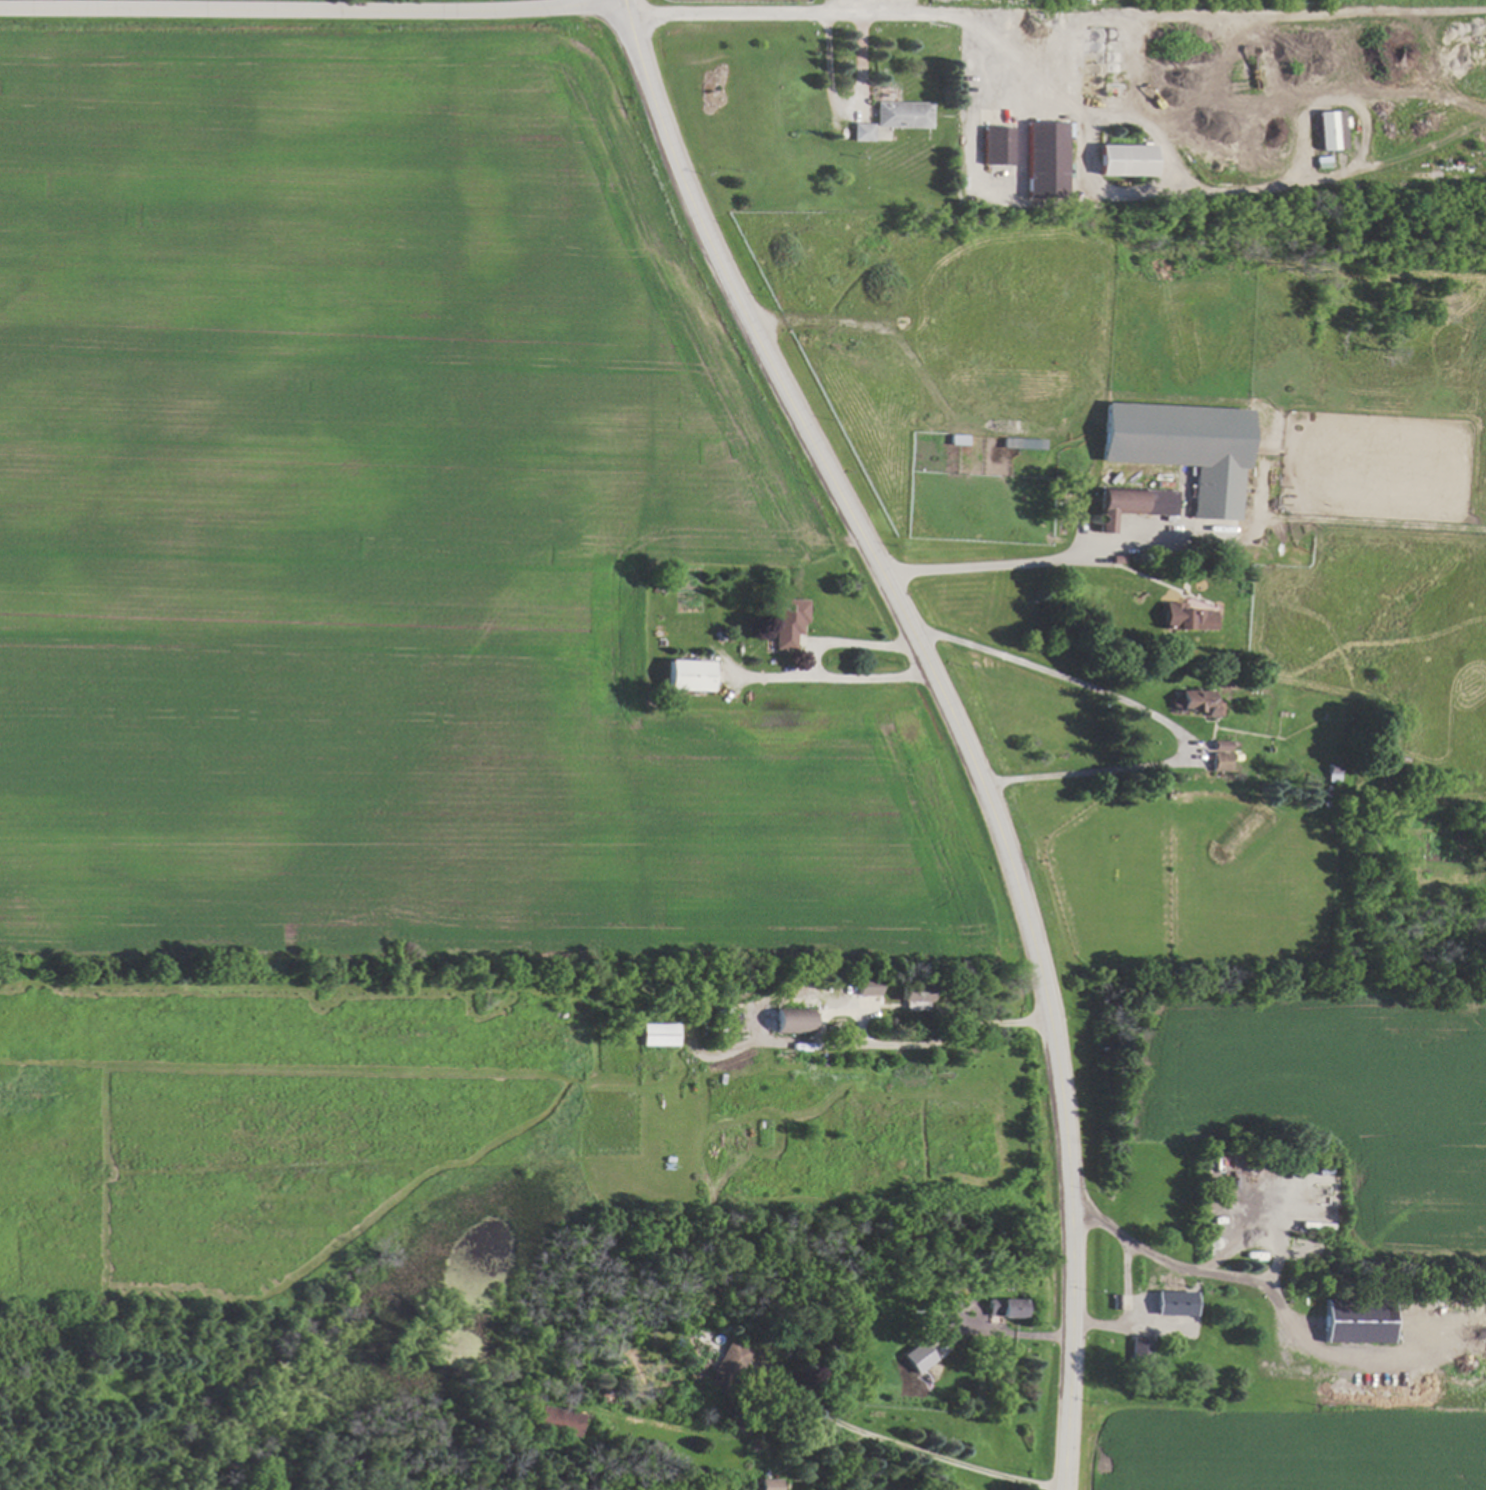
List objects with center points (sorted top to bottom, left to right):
road: (621, 0)
road: (311, 2)
crop: (1306, 3)
road: (737, 14)
road: (1058, 109)
building: (901, 114)
building: (1326, 129)
building: (861, 131)
building: (994, 145)
building: (1042, 158)
building: (1121, 159)
building: (1020, 442)
building: (1180, 447)
building: (1131, 504)
crop: (400, 531)
road: (989, 565)
building: (1185, 617)
building: (787, 621)
road: (850, 645)
building: (687, 675)
road: (833, 680)
building: (1198, 702)
road: (1155, 712)
road: (952, 717)
building: (1219, 755)
building: (865, 986)
building: (913, 999)
building: (791, 1020)
building: (658, 1034)
road: (941, 1041)
road: (1248, 1281)
building: (1172, 1303)
building: (1002, 1307)
road: (1124, 1308)
building: (1355, 1323)
building: (1137, 1349)
building: (916, 1356)
building: (727, 1366)
building: (559, 1419)
road: (907, 1449)
building: (770, 1484)

